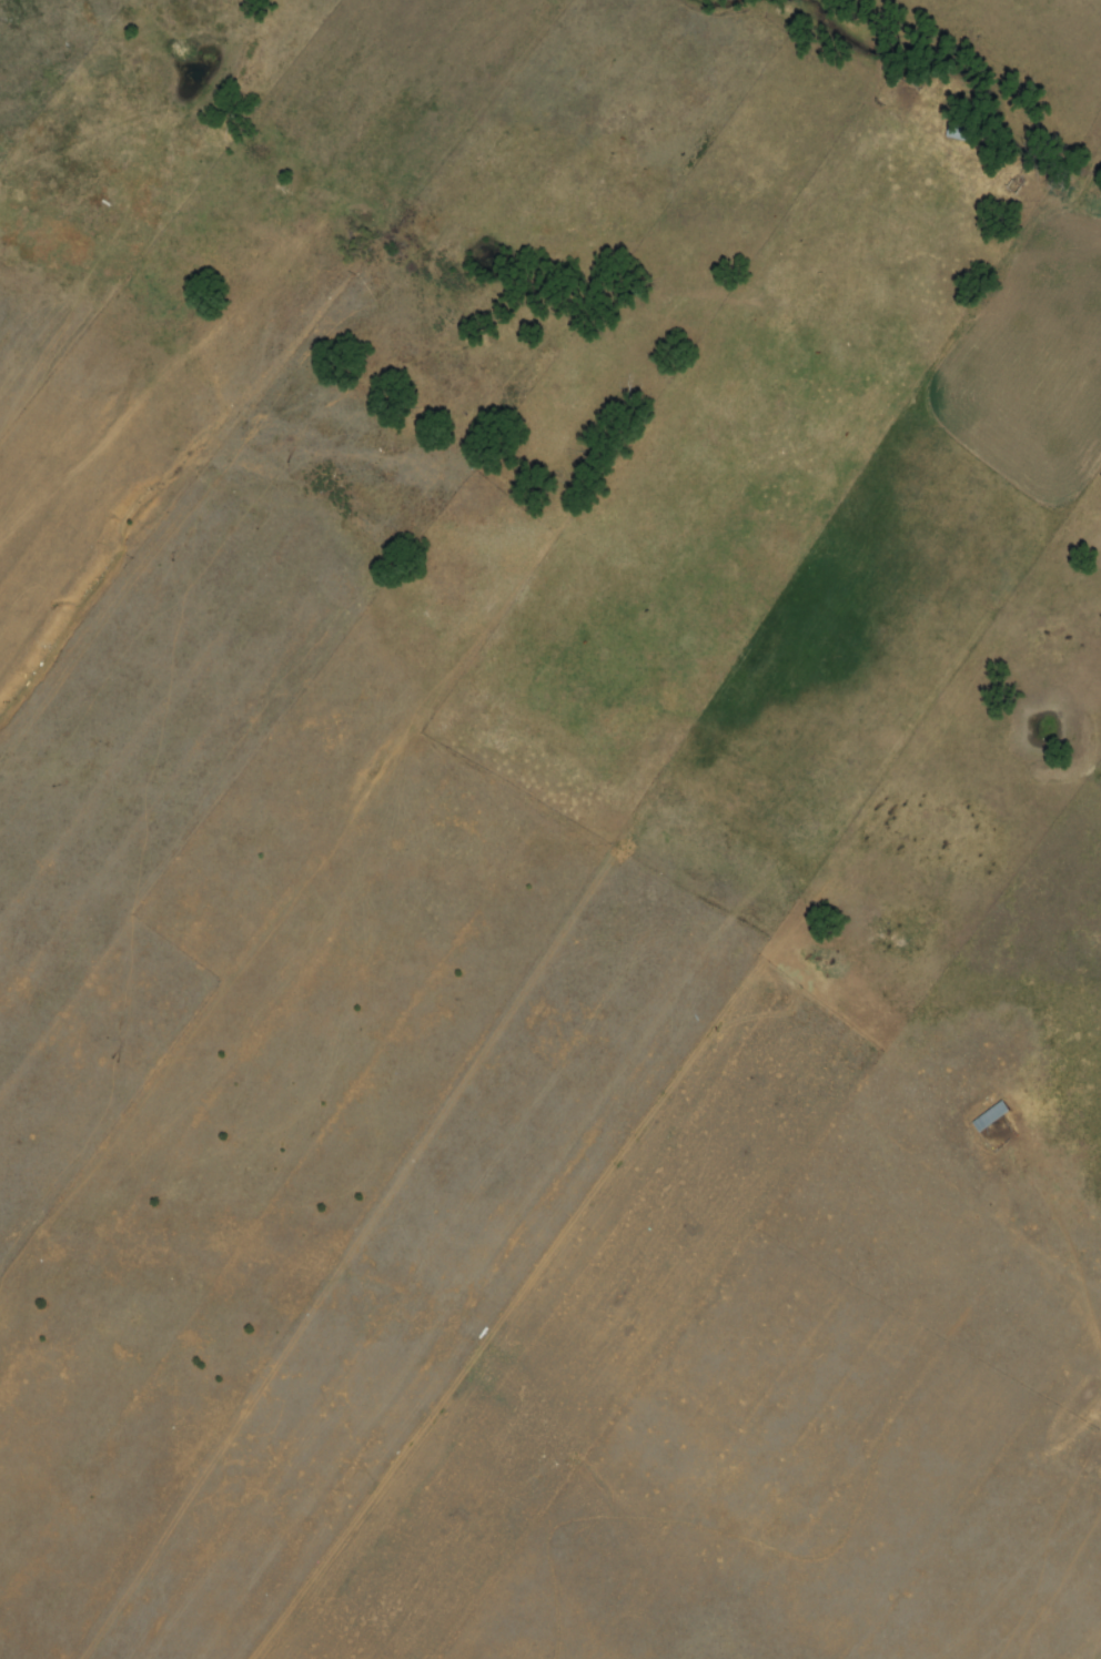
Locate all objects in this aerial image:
building: (959, 132)
building: (989, 1115)

